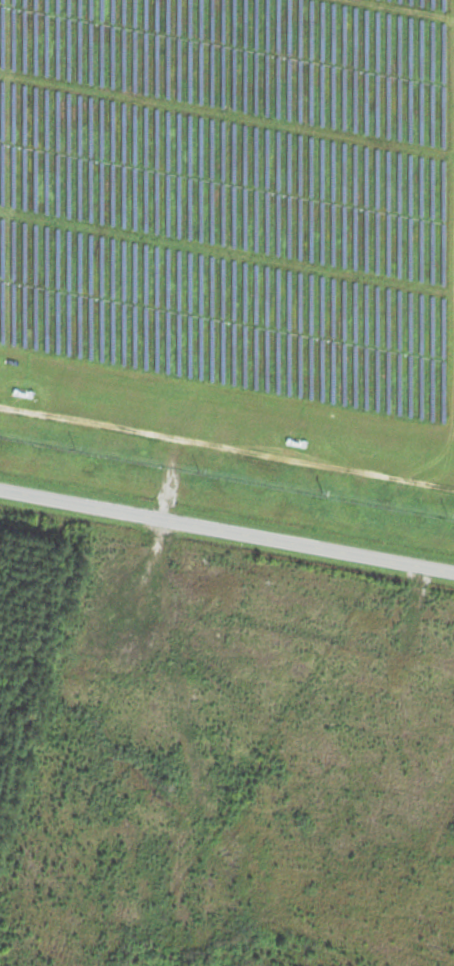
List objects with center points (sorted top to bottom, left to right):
road: (227, 536)

